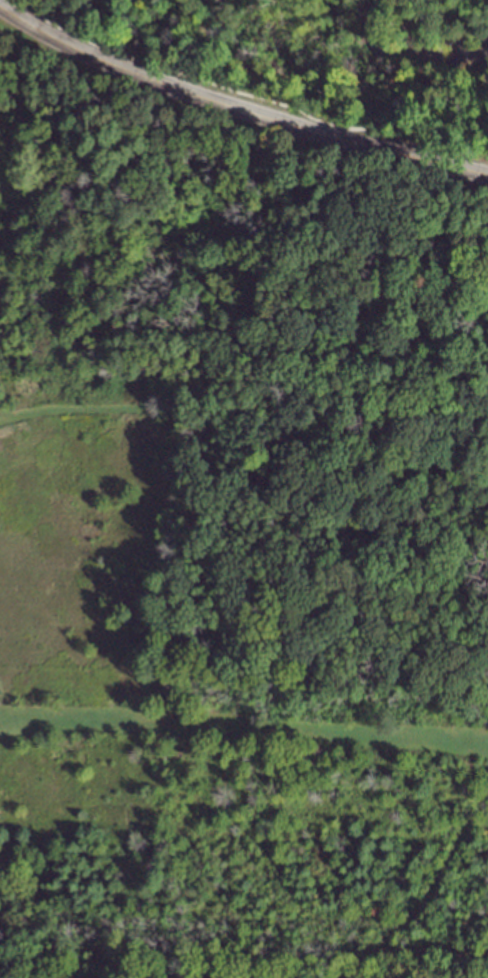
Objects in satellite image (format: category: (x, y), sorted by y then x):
road: (222, 22)
road: (360, 45)
park: (313, 54)
road: (296, 69)
road: (237, 106)
road: (456, 108)
road: (200, 238)
road: (2, 415)
park: (236, 544)
road: (213, 584)
road: (244, 725)
road: (434, 875)
road: (416, 951)
road: (121, 975)

